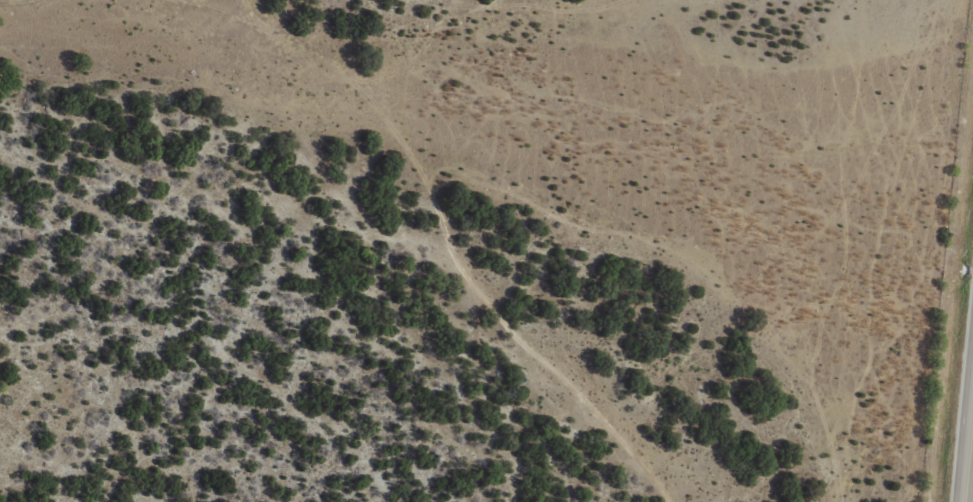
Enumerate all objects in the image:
road: (971, 484)

